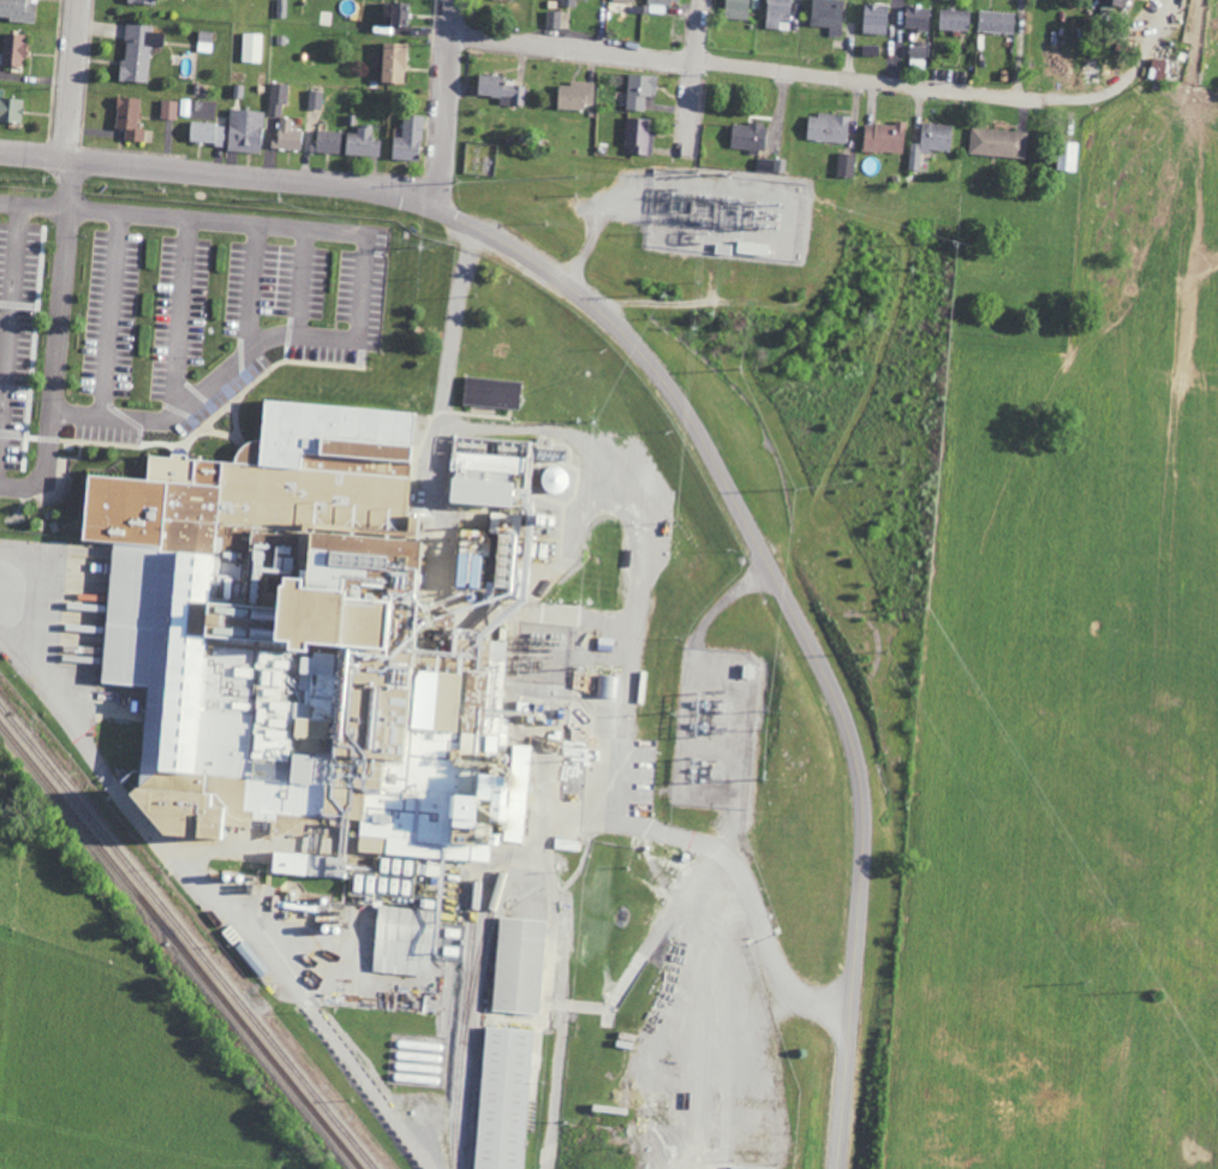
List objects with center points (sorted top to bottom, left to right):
building: (625, 0)
building: (144, 2)
building: (569, 2)
building: (658, 5)
road: (1157, 5)
building: (281, 8)
building: (18, 10)
building: (735, 10)
building: (777, 14)
building: (826, 16)
building: (398, 18)
building: (917, 18)
building: (553, 19)
building: (873, 19)
building: (954, 19)
building: (996, 22)
building: (204, 42)
building: (251, 48)
road: (1020, 48)
building: (12, 50)
building: (868, 50)
building: (918, 50)
building: (137, 53)
building: (392, 62)
road: (744, 65)
building: (1166, 71)
road: (695, 74)
road: (74, 79)
road: (1115, 84)
building: (500, 90)
building: (639, 91)
building: (575, 95)
building: (277, 99)
building: (315, 100)
road: (448, 106)
building: (185, 108)
building: (10, 109)
building: (168, 111)
building: (127, 119)
building: (826, 129)
building: (245, 131)
building: (207, 133)
building: (287, 136)
building: (639, 137)
building: (747, 137)
building: (883, 138)
building: (407, 141)
building: (326, 142)
building: (362, 143)
building: (930, 143)
building: (997, 143)
building: (1067, 157)
building: (770, 165)
building: (846, 166)
road: (31, 204)
power substation: (729, 214)
road: (358, 305)
road: (54, 322)
parking lot: (210, 324)
parking lot: (18, 335)
building: (491, 392)
road: (695, 423)
building: (329, 437)
building: (553, 478)
road: (22, 488)
building: (381, 505)
building: (280, 556)
building: (462, 569)
road: (729, 598)
building: (608, 685)
power substation: (716, 726)
road: (718, 855)
railway: (186, 937)
railway: (480, 944)
railway: (180, 947)
building: (517, 965)
railway: (464, 1009)
road: (647, 1057)
building: (502, 1098)
road: (674, 1127)

